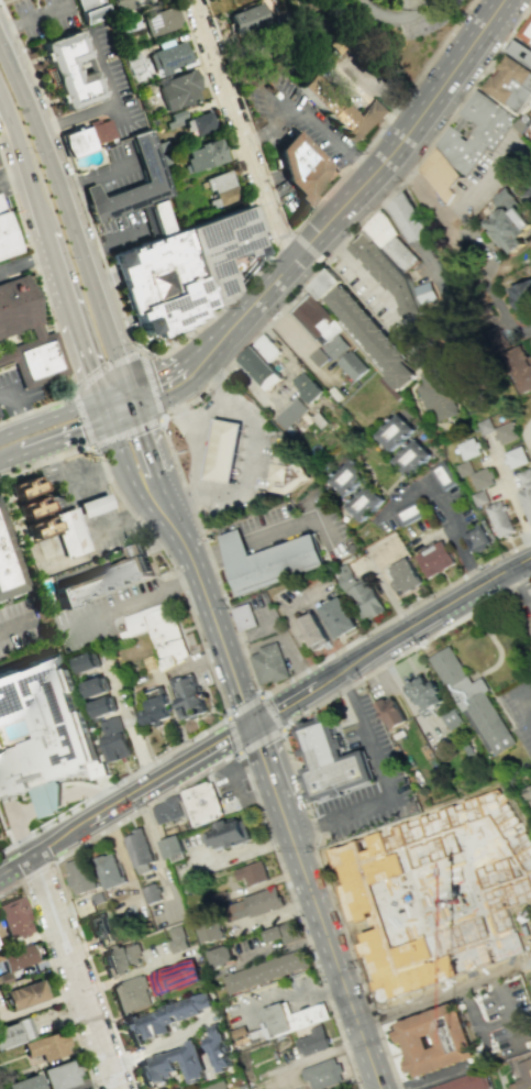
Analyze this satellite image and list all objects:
building: (120, 4)
building: (90, 10)
parking lot: (43, 18)
building: (247, 18)
parking lot: (420, 18)
road: (31, 19)
building: (161, 20)
building: (128, 22)
road: (394, 25)
building: (527, 33)
building: (339, 43)
building: (520, 54)
building: (167, 56)
building: (69, 70)
parking lot: (110, 77)
building: (509, 85)
building: (178, 89)
road: (366, 89)
road: (111, 106)
building: (344, 109)
parking lot: (295, 116)
road: (247, 117)
building: (175, 118)
building: (530, 122)
building: (199, 123)
road: (270, 124)
building: (100, 129)
road: (243, 130)
road: (322, 130)
road: (407, 131)
building: (473, 131)
road: (5, 140)
building: (77, 141)
building: (203, 155)
road: (18, 157)
building: (147, 161)
parking lot: (0, 164)
building: (302, 168)
parking lot: (113, 170)
road: (10, 172)
building: (438, 174)
road: (95, 176)
parking lot: (2, 179)
building: (221, 188)
building: (158, 215)
road: (69, 216)
road: (450, 216)
building: (407, 217)
building: (509, 220)
road: (359, 223)
parking lot: (123, 229)
road: (398, 231)
building: (5, 237)
road: (114, 239)
building: (387, 240)
road: (306, 249)
road: (53, 258)
road: (25, 265)
road: (354, 268)
building: (182, 271)
building: (387, 274)
road: (486, 277)
building: (322, 283)
building: (422, 291)
road: (257, 298)
building: (521, 300)
building: (18, 307)
road: (48, 308)
building: (314, 320)
road: (191, 331)
building: (367, 335)
building: (530, 342)
building: (334, 346)
building: (265, 348)
road: (86, 353)
building: (317, 356)
building: (37, 361)
road: (193, 364)
building: (350, 364)
building: (518, 365)
road: (102, 367)
building: (259, 369)
road: (151, 385)
road: (217, 386)
building: (306, 386)
road: (151, 391)
building: (432, 394)
road: (4, 395)
parking lot: (8, 397)
road: (118, 397)
traffic signals: (134, 397)
traffic signals: (101, 398)
road: (88, 403)
road: (16, 409)
road: (104, 409)
road: (121, 409)
building: (289, 413)
road: (80, 419)
road: (37, 421)
traffic signals: (109, 421)
road: (202, 424)
building: (482, 425)
road: (197, 429)
road: (79, 431)
building: (392, 431)
road: (126, 432)
building: (502, 432)
road: (527, 437)
road: (226, 439)
building: (467, 448)
road: (25, 452)
road: (153, 453)
building: (221, 453)
gas station: (232, 453)
road: (250, 457)
building: (408, 458)
building: (515, 459)
parking lot: (263, 462)
road: (223, 463)
building: (463, 468)
road: (128, 471)
building: (285, 473)
building: (440, 474)
building: (346, 475)
building: (524, 476)
building: (479, 477)
parking lot: (69, 482)
road: (76, 484)
road: (510, 496)
building: (479, 497)
road: (104, 498)
road: (188, 499)
building: (526, 499)
building: (363, 502)
building: (32, 506)
road: (81, 508)
road: (444, 508)
building: (92, 510)
building: (407, 512)
road: (126, 518)
building: (498, 518)
parking lot: (295, 527)
road: (284, 530)
building: (69, 531)
road: (147, 532)
road: (324, 532)
building: (476, 539)
road: (220, 553)
road: (209, 558)
building: (433, 560)
building: (266, 562)
building: (10, 565)
building: (402, 575)
building: (102, 581)
road: (381, 586)
road: (522, 587)
building: (358, 593)
parking lot: (302, 598)
road: (132, 603)
road: (295, 603)
road: (442, 608)
parking lot: (104, 610)
parking lot: (264, 614)
road: (520, 614)
road: (211, 616)
building: (242, 616)
building: (338, 616)
road: (394, 616)
parking lot: (19, 624)
road: (14, 626)
building: (312, 630)
road: (244, 634)
building: (158, 635)
road: (280, 636)
parking lot: (288, 651)
road: (405, 651)
road: (498, 653)
building: (88, 662)
building: (267, 663)
building: (96, 687)
road: (303, 693)
building: (422, 694)
building: (187, 695)
road: (526, 695)
building: (471, 702)
building: (103, 706)
building: (155, 710)
parking lot: (520, 710)
building: (388, 712)
building: (449, 718)
traffic signals: (251, 725)
building: (42, 732)
road: (279, 732)
building: (115, 739)
road: (195, 759)
building: (332, 765)
road: (246, 768)
parking lot: (387, 770)
road: (196, 778)
road: (82, 782)
road: (113, 782)
road: (385, 783)
road: (273, 789)
road: (88, 791)
parking lot: (233, 791)
road: (235, 791)
building: (529, 793)
road: (49, 799)
road: (10, 804)
building: (202, 804)
building: (167, 810)
road: (15, 823)
building: (228, 833)
road: (69, 834)
building: (169, 847)
building: (139, 849)
building: (110, 870)
road: (36, 871)
building: (253, 873)
building: (82, 886)
building: (151, 893)
building: (435, 894)
building: (255, 903)
road: (333, 910)
building: (13, 917)
building: (99, 927)
building: (208, 927)
building: (0, 932)
building: (281, 932)
building: (176, 938)
building: (18, 956)
building: (219, 956)
building: (122, 959)
road: (530, 966)
road: (340, 970)
road: (76, 971)
road: (139, 971)
building: (266, 971)
road: (53, 974)
building: (4, 977)
building: (174, 977)
building: (25, 994)
building: (131, 994)
road: (41, 1002)
road: (505, 1003)
parking lot: (507, 1015)
building: (163, 1016)
road: (473, 1016)
building: (289, 1020)
road: (495, 1023)
building: (14, 1031)
road: (515, 1032)
building: (433, 1038)
building: (313, 1042)
building: (45, 1045)
road: (165, 1045)
building: (218, 1048)
building: (169, 1066)
building: (324, 1074)
building: (523, 1074)
building: (59, 1075)
road: (90, 1079)
building: (21, 1082)
building: (462, 1082)
building: (214, 1085)
building: (243, 1086)

